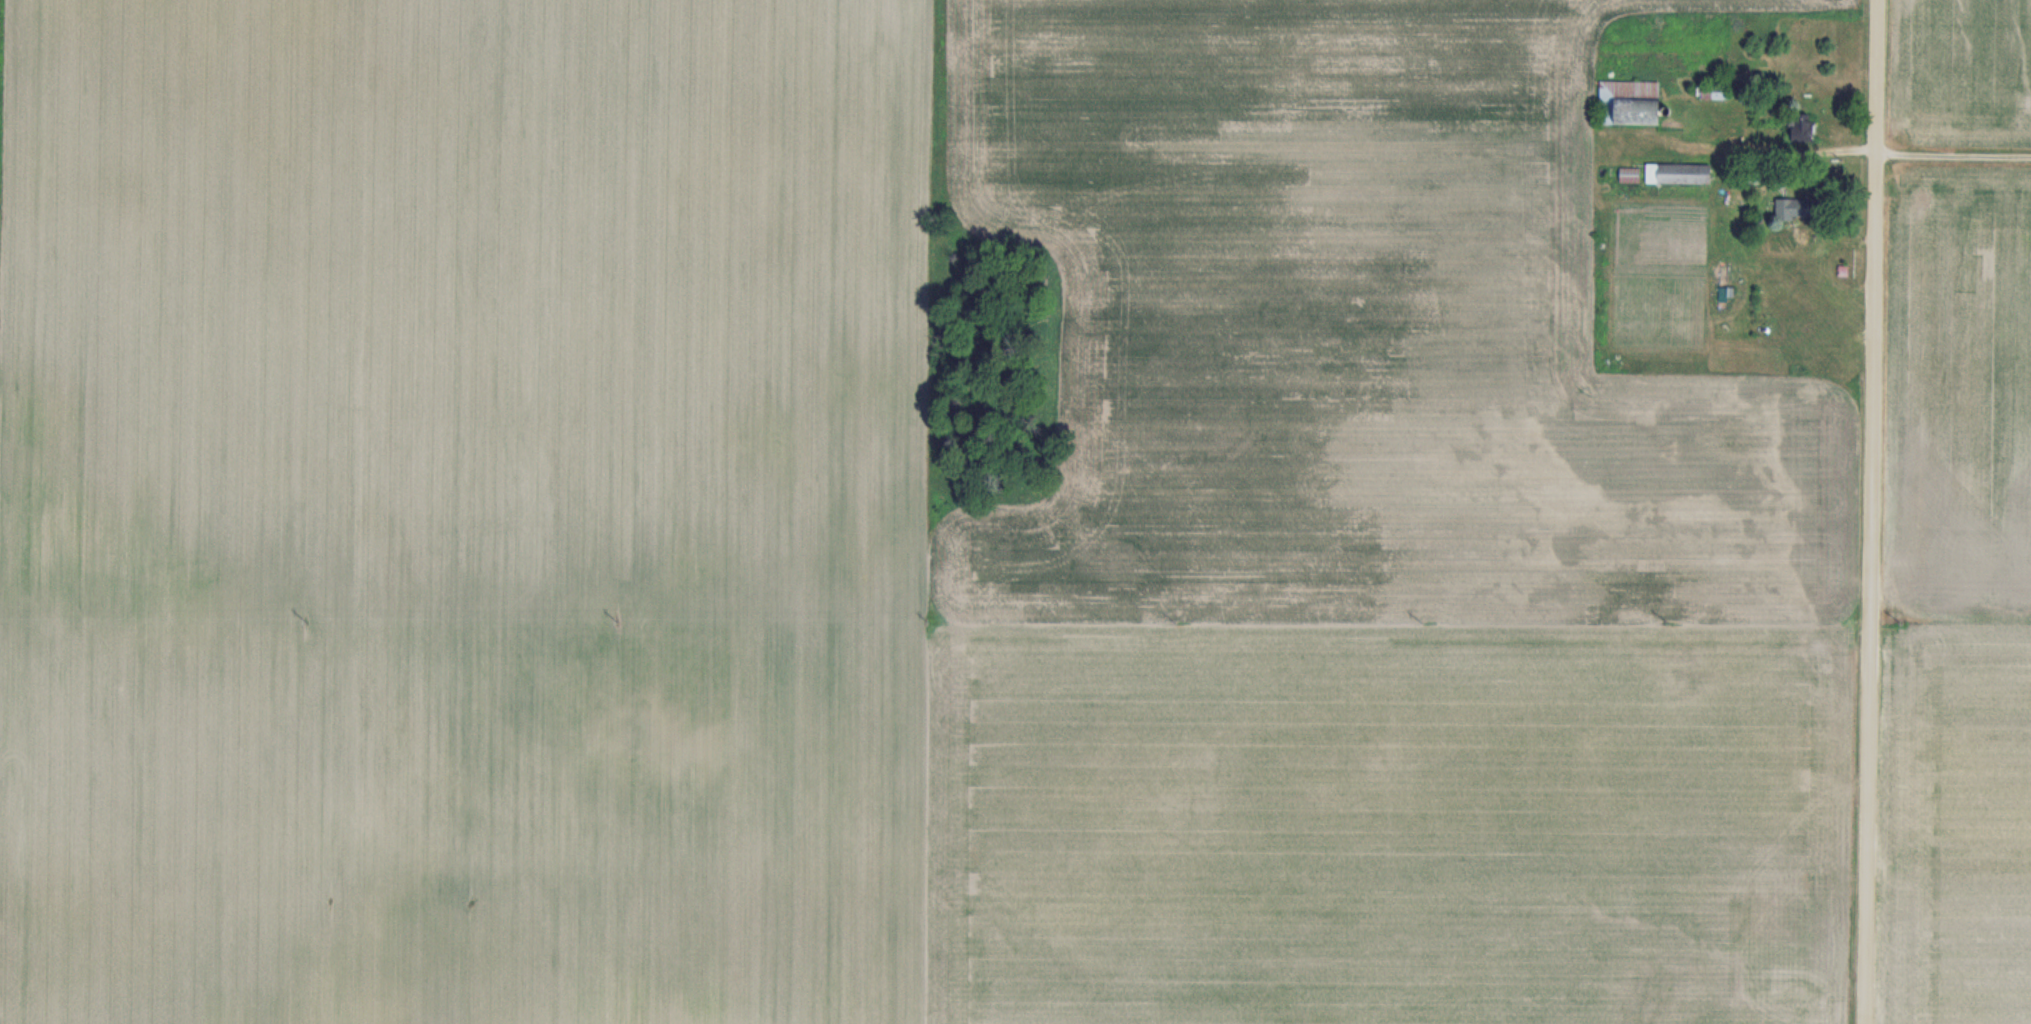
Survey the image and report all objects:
building: (1713, 92)
building: (1629, 103)
building: (1798, 127)
road: (1955, 156)
building: (1659, 174)
building: (1784, 210)
road: (1875, 511)

